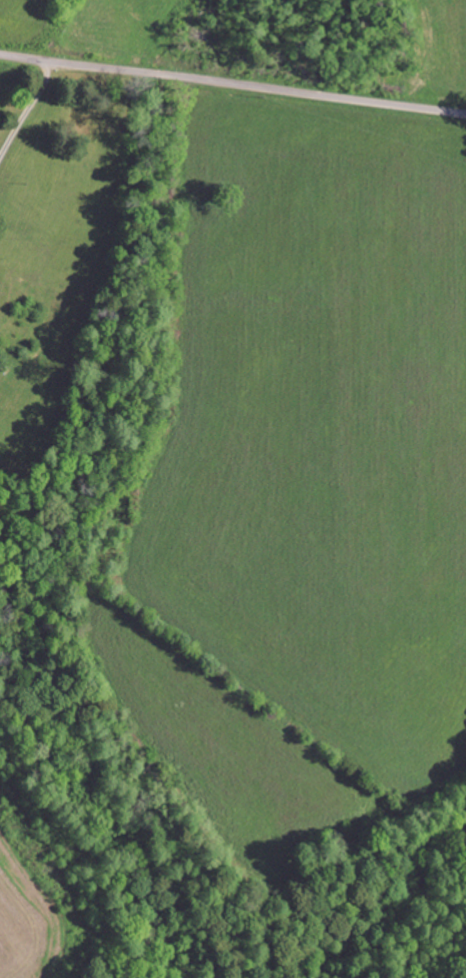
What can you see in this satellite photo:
road: (233, 85)

